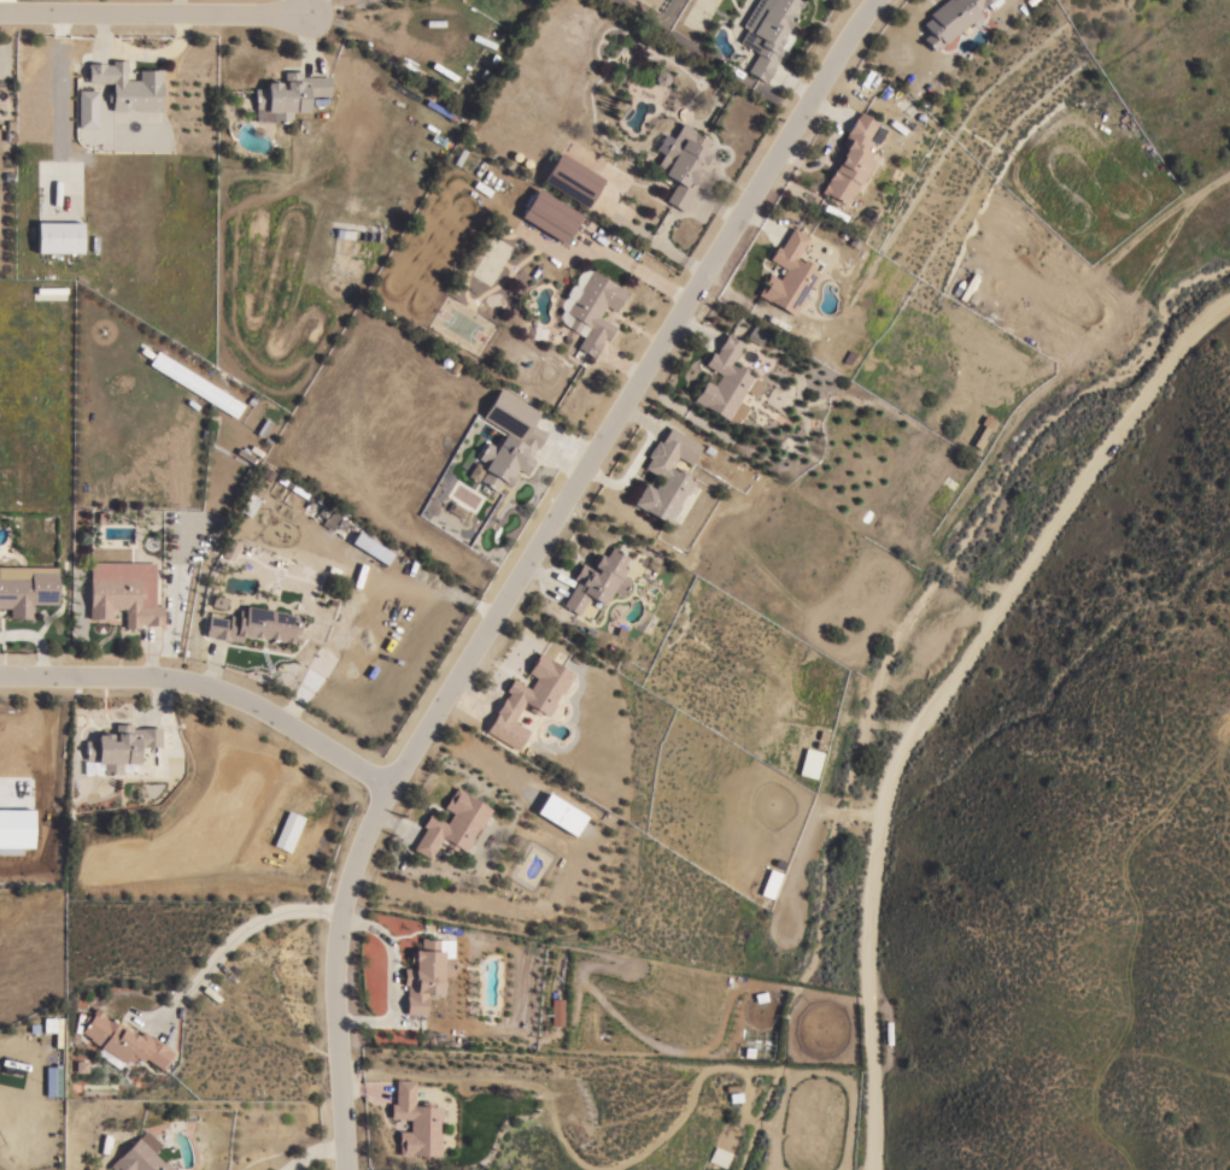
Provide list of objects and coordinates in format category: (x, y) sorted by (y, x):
road: (154, 13)
building: (948, 19)
building: (767, 33)
building: (127, 86)
building: (288, 94)
building: (86, 110)
building: (849, 160)
building: (681, 163)
building: (570, 180)
building: (549, 216)
road: (1141, 228)
building: (58, 237)
building: (787, 275)
building: (588, 308)
building: (755, 335)
building: (725, 382)
building: (195, 386)
building: (982, 430)
building: (508, 440)
building: (666, 475)
building: (332, 517)
building: (370, 547)
road: (526, 559)
building: (596, 581)
building: (25, 588)
building: (123, 593)
building: (252, 625)
road: (206, 682)
road: (939, 692)
building: (527, 699)
building: (117, 748)
building: (808, 763)
building: (562, 815)
building: (451, 824)
building: (17, 829)
building: (287, 831)
road: (789, 877)
building: (769, 883)
road: (253, 918)
building: (426, 971)
building: (555, 1012)
building: (121, 1042)
building: (414, 1122)
road: (300, 1142)
building: (140, 1156)
building: (719, 1158)

